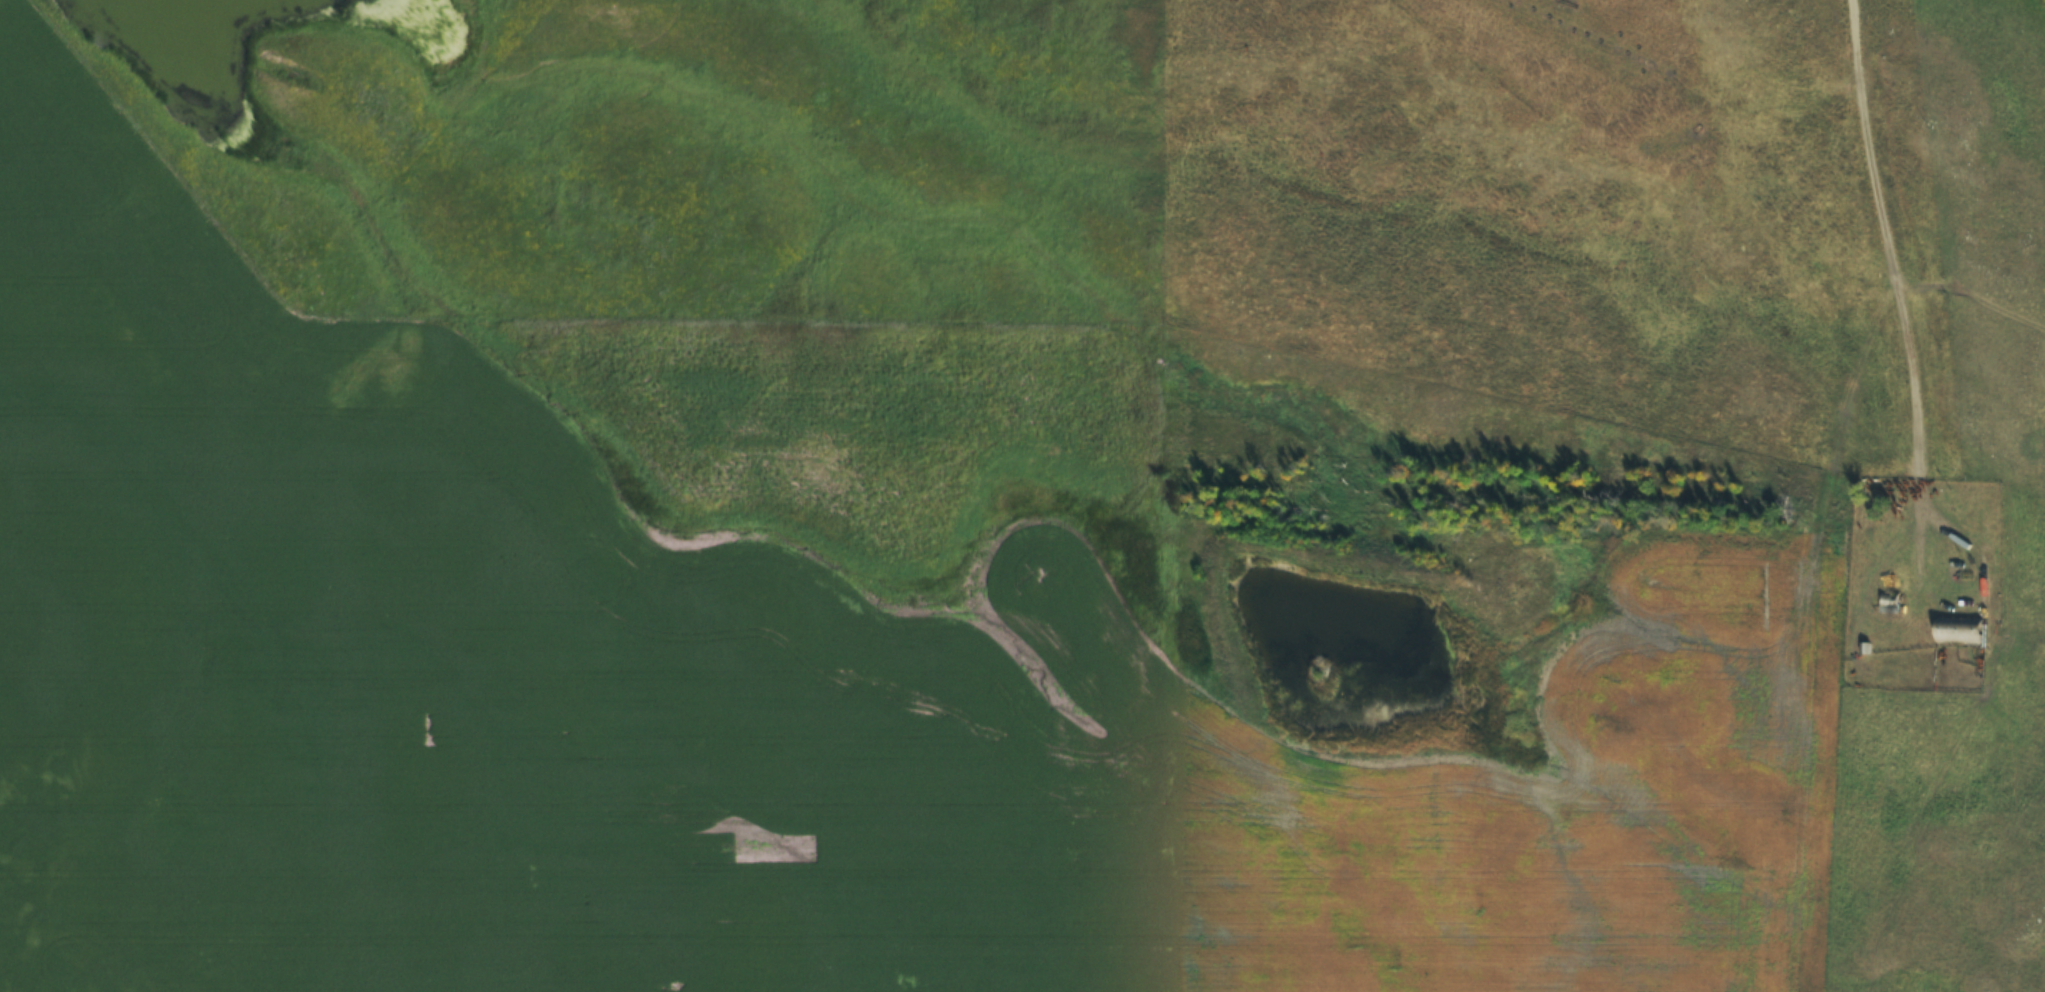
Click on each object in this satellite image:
building: (1888, 604)
building: (1958, 634)

